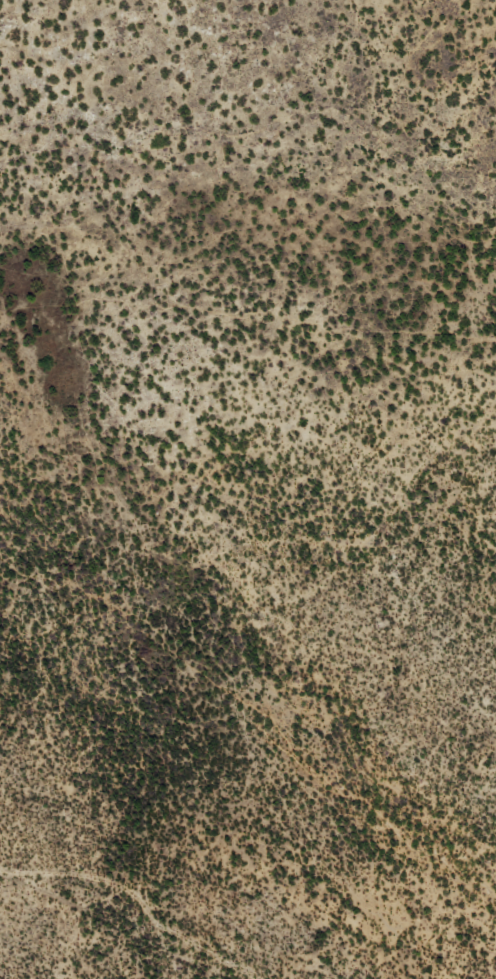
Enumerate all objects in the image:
road: (100, 929)

